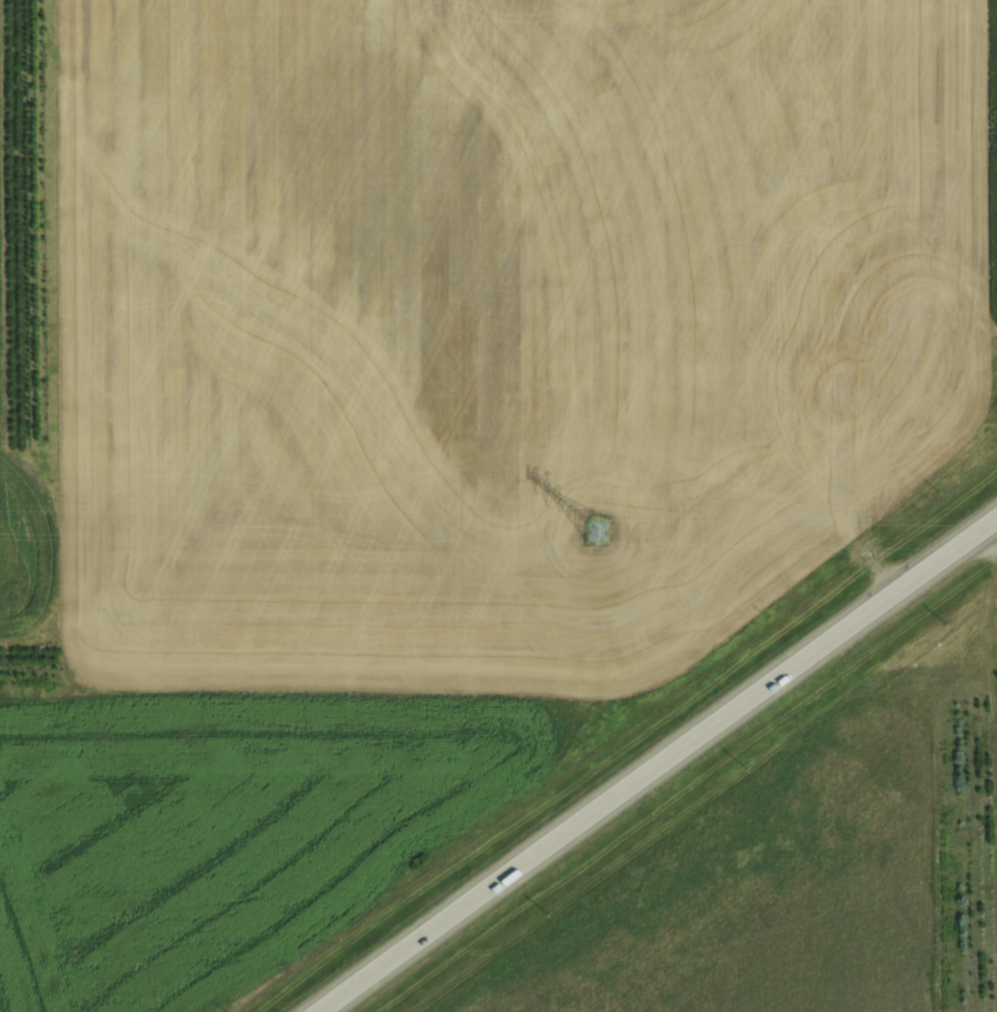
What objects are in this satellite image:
power tower: (593, 531)
road: (659, 766)

